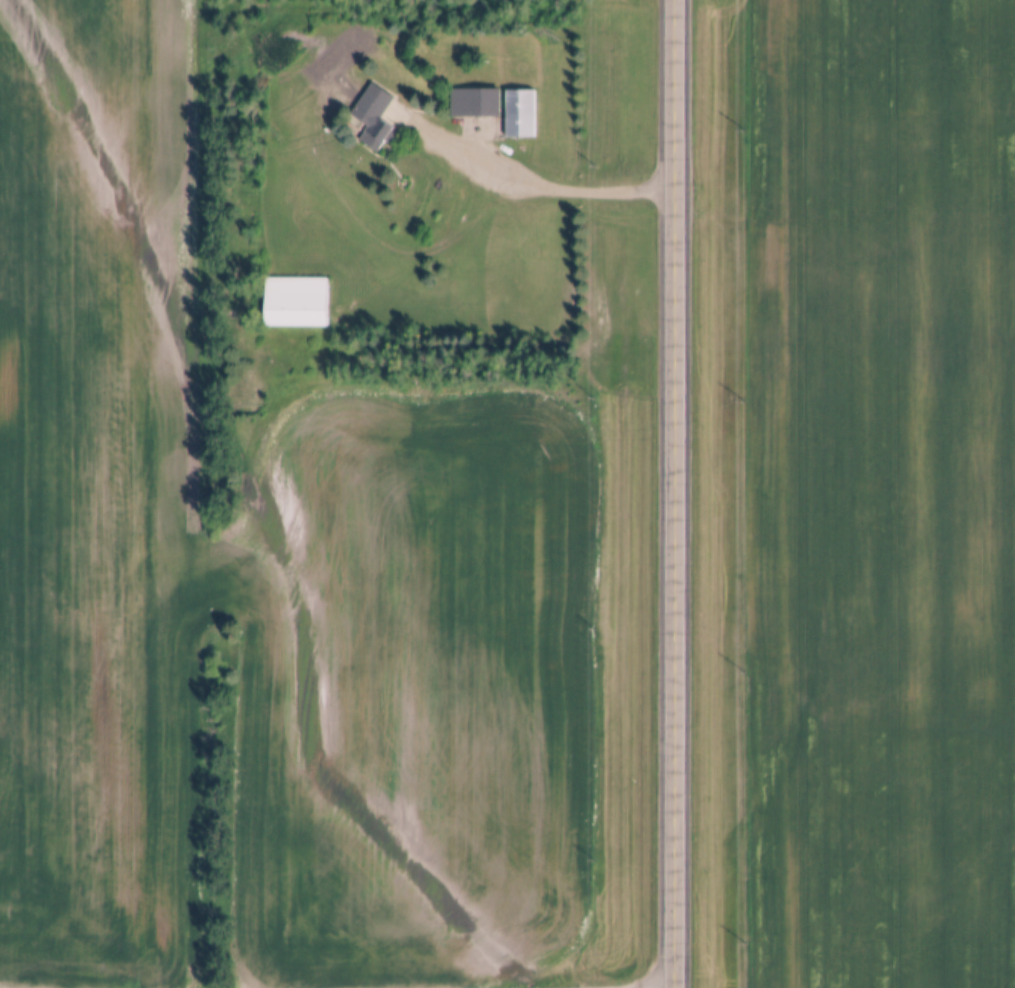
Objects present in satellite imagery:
building: (475, 102)
building: (520, 114)
building: (374, 117)
road: (519, 184)
building: (296, 302)
road: (671, 494)

